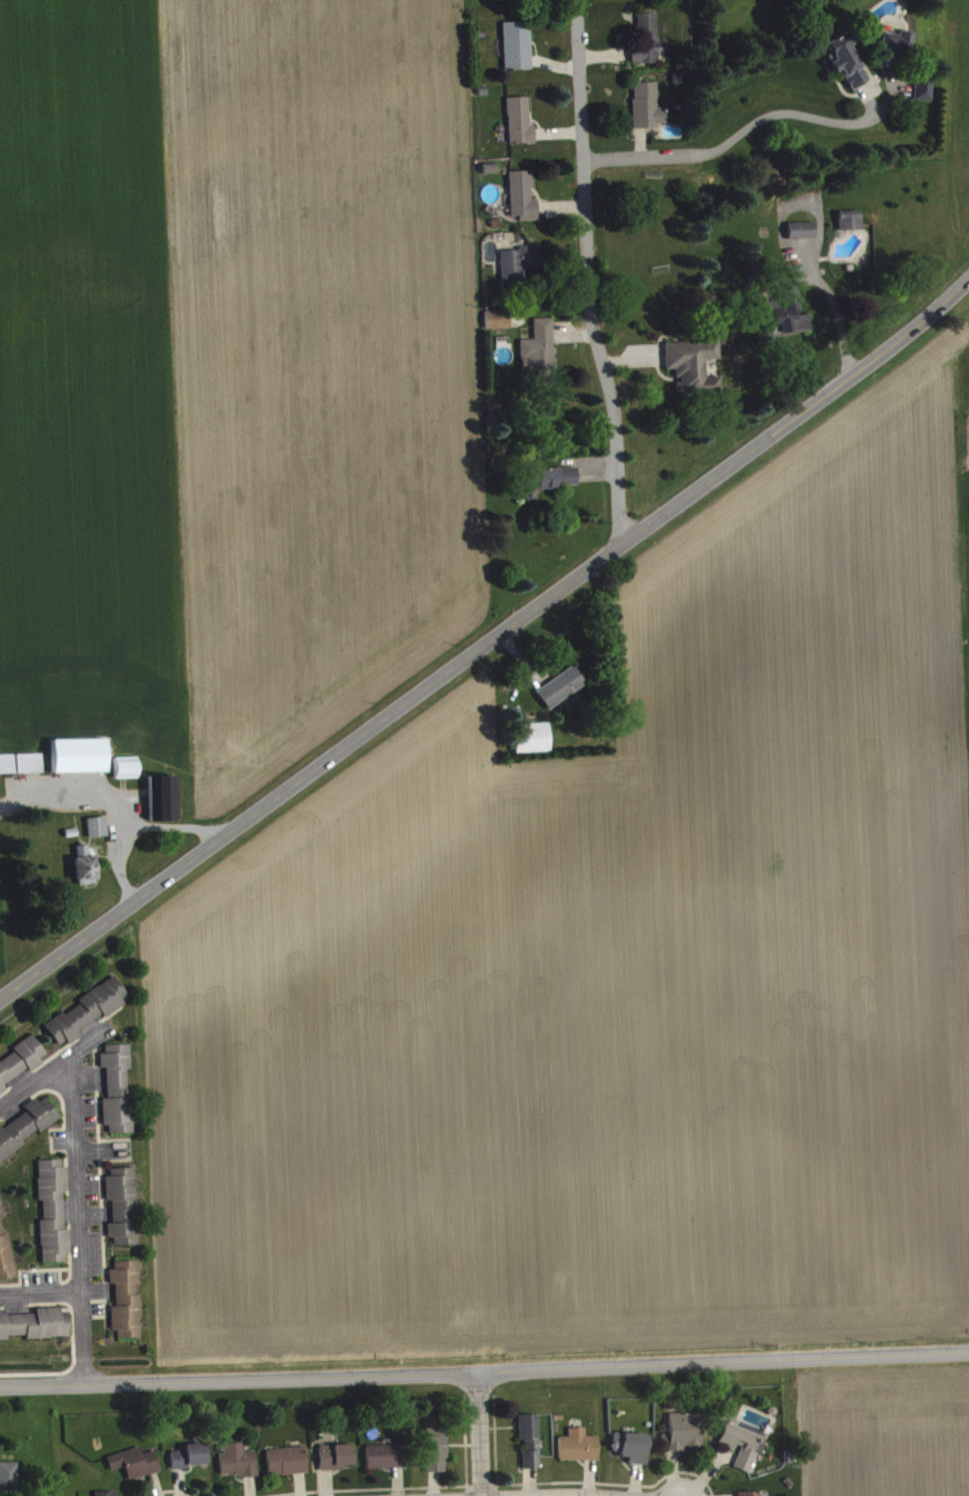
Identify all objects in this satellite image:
building: (514, 0)
building: (649, 46)
building: (900, 48)
building: (519, 50)
building: (848, 64)
building: (925, 94)
building: (649, 111)
building: (521, 126)
road: (734, 136)
building: (524, 201)
building: (852, 225)
building: (803, 235)
building: (519, 268)
road: (586, 272)
building: (792, 319)
road: (843, 320)
building: (499, 324)
building: (541, 353)
building: (695, 371)
building: (547, 485)
road: (486, 637)
building: (561, 692)
building: (533, 743)
building: (81, 761)
building: (21, 769)
building: (128, 773)
building: (165, 803)
building: (99, 832)
building: (87, 870)
building: (89, 1016)
building: (21, 1067)
road: (55, 1070)
building: (118, 1095)
building: (27, 1132)
building: (123, 1212)
building: (54, 1216)
road: (77, 1222)
building: (6, 1256)
road: (40, 1296)
building: (127, 1305)
building: (36, 1330)
road: (484, 1370)
road: (478, 1433)
building: (685, 1436)
building: (531, 1445)
building: (580, 1451)
building: (742, 1451)
building: (634, 1452)
building: (437, 1455)
building: (191, 1461)
building: (387, 1461)
building: (337, 1462)
building: (238, 1466)
building: (288, 1466)
building: (135, 1468)
building: (9, 1482)

